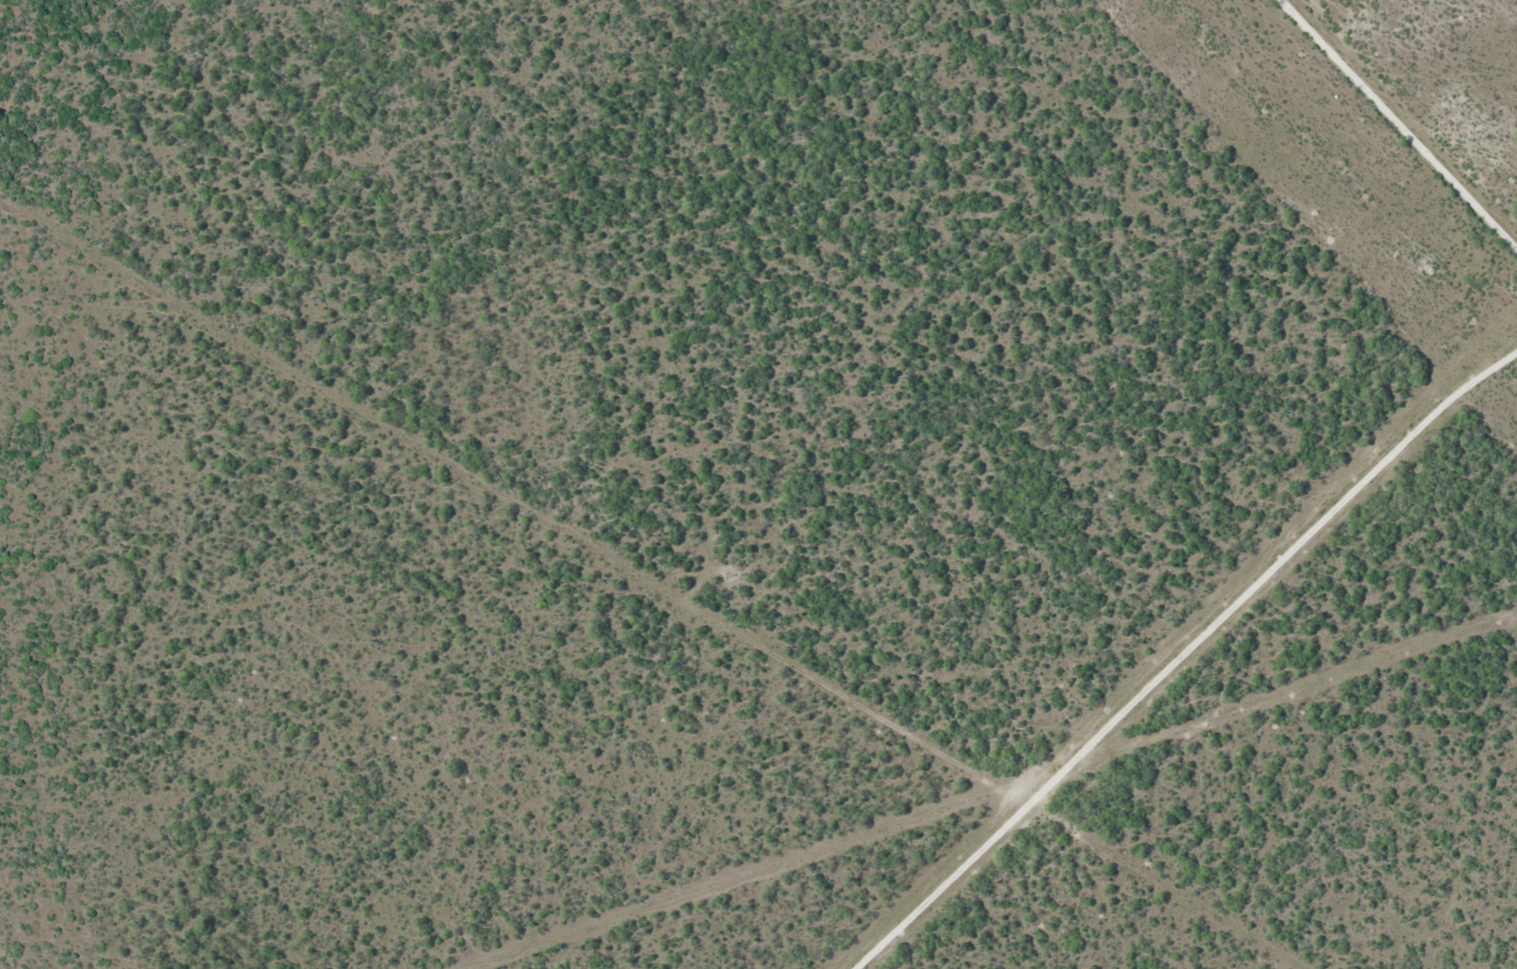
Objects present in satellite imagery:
road: (1393, 130)

